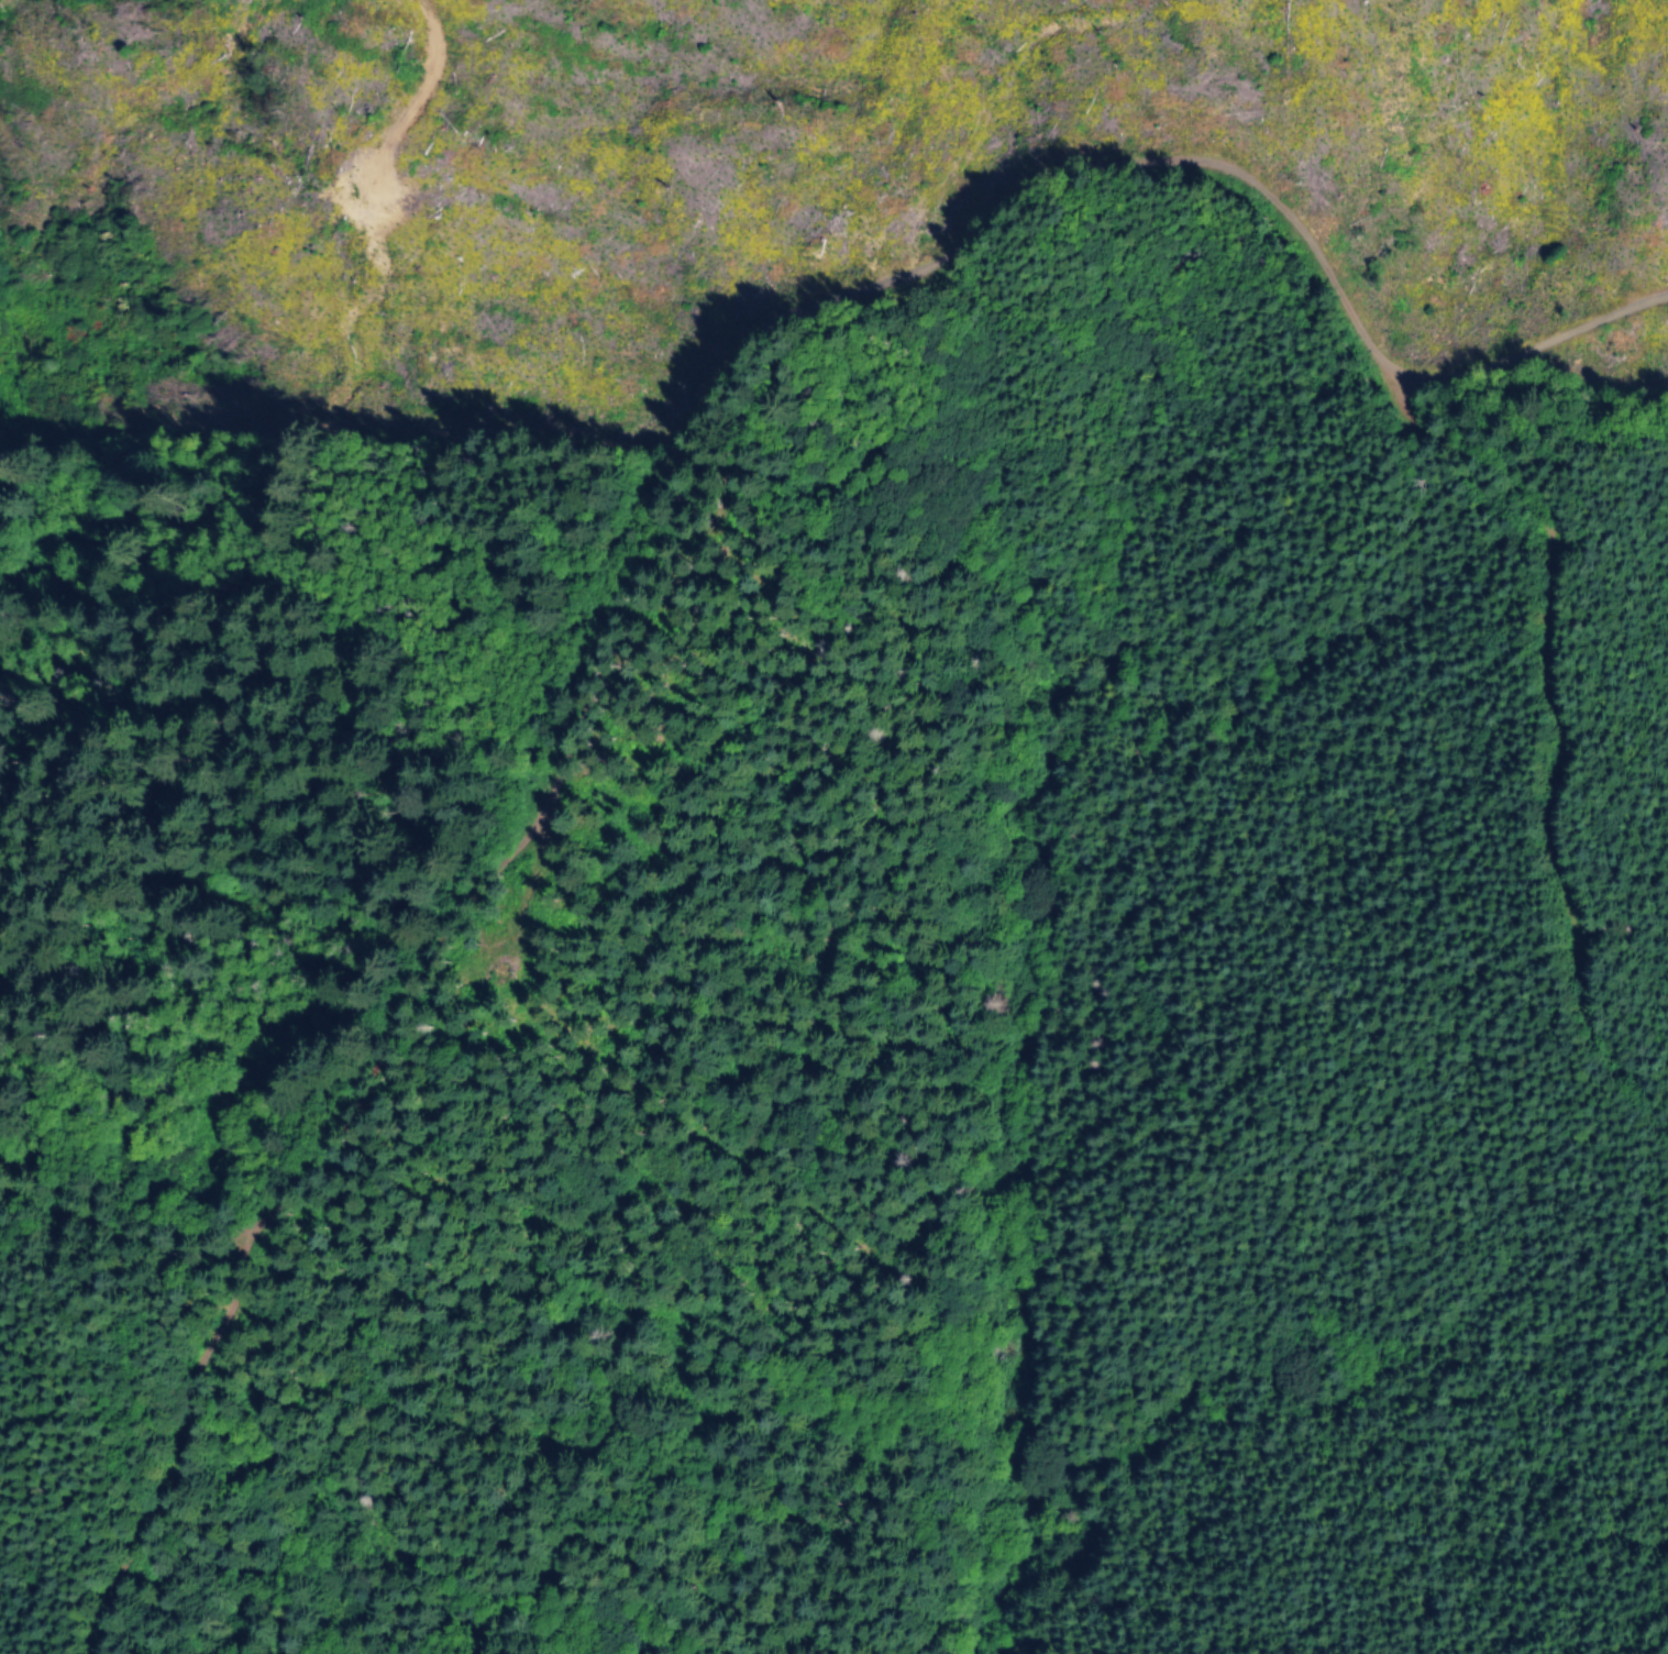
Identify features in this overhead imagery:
road: (617, 498)
road: (113, 1089)

